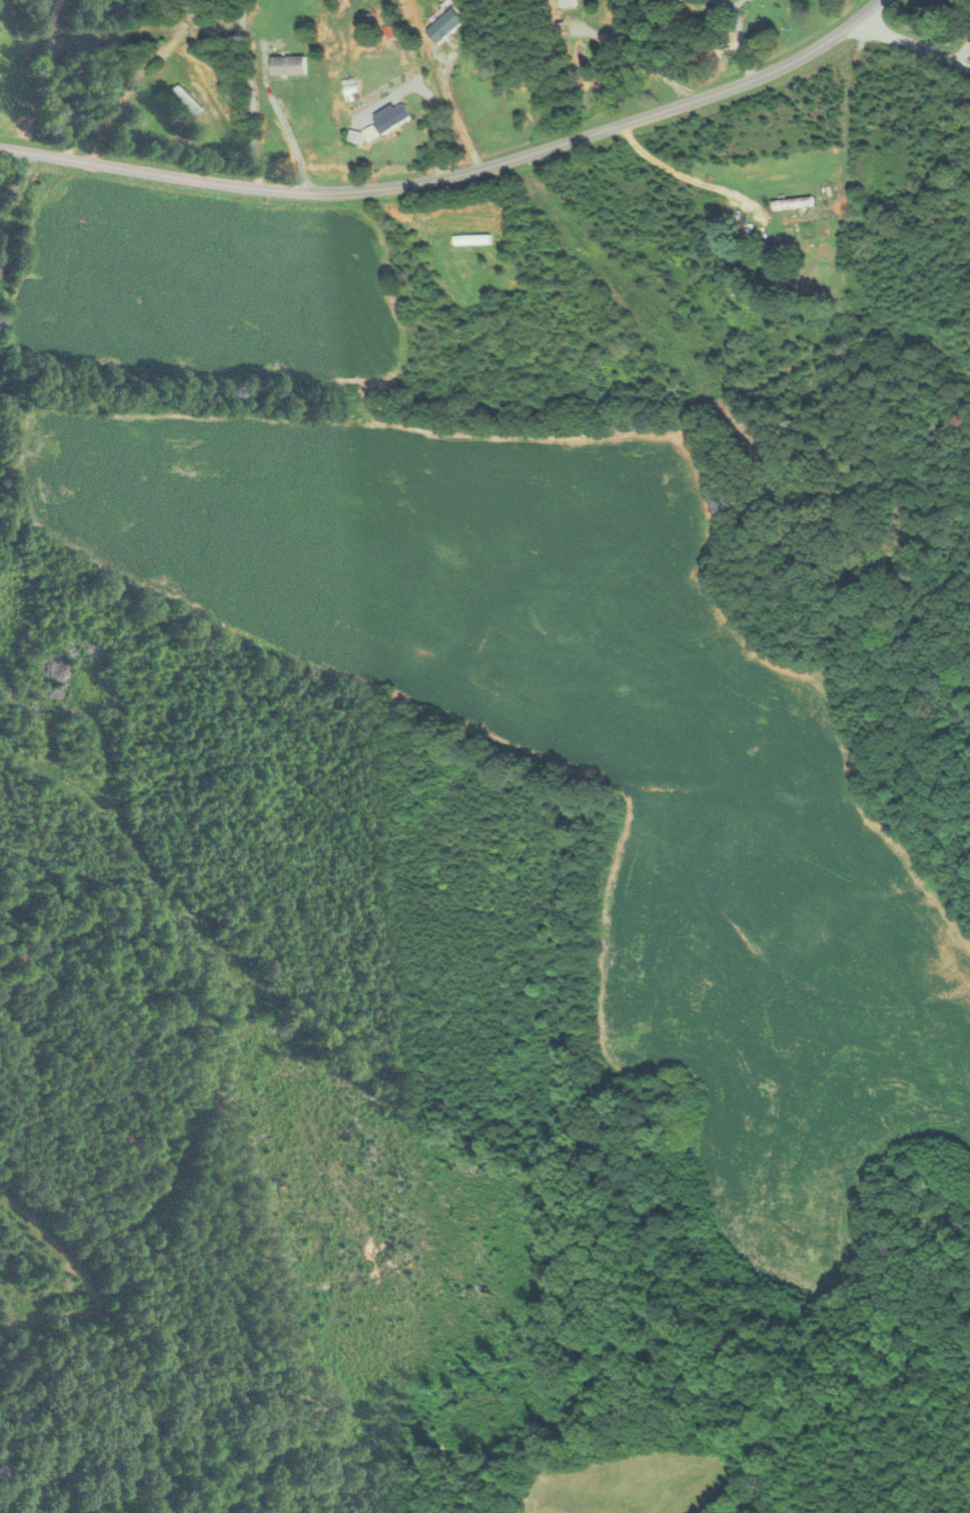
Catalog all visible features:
building: (683, 0)
building: (569, 3)
building: (450, 26)
road: (913, 46)
building: (295, 66)
building: (194, 100)
building: (396, 119)
road: (460, 120)
road: (288, 125)
road: (845, 170)
road: (457, 176)
building: (791, 205)
road: (13, 214)

